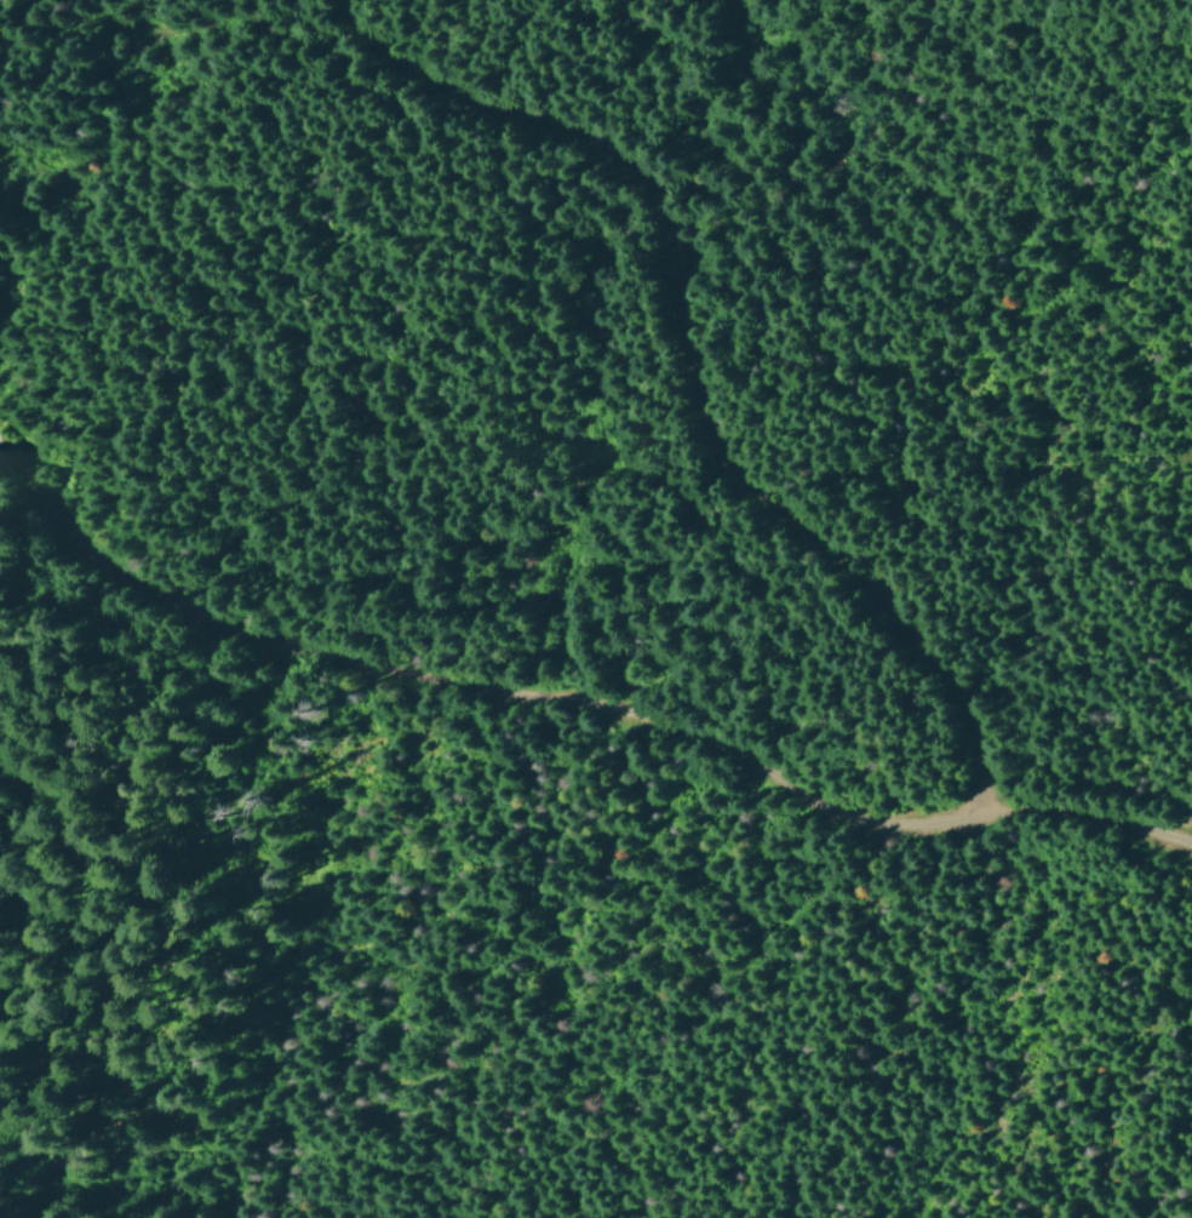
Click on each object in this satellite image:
road: (687, 373)
road: (571, 698)

